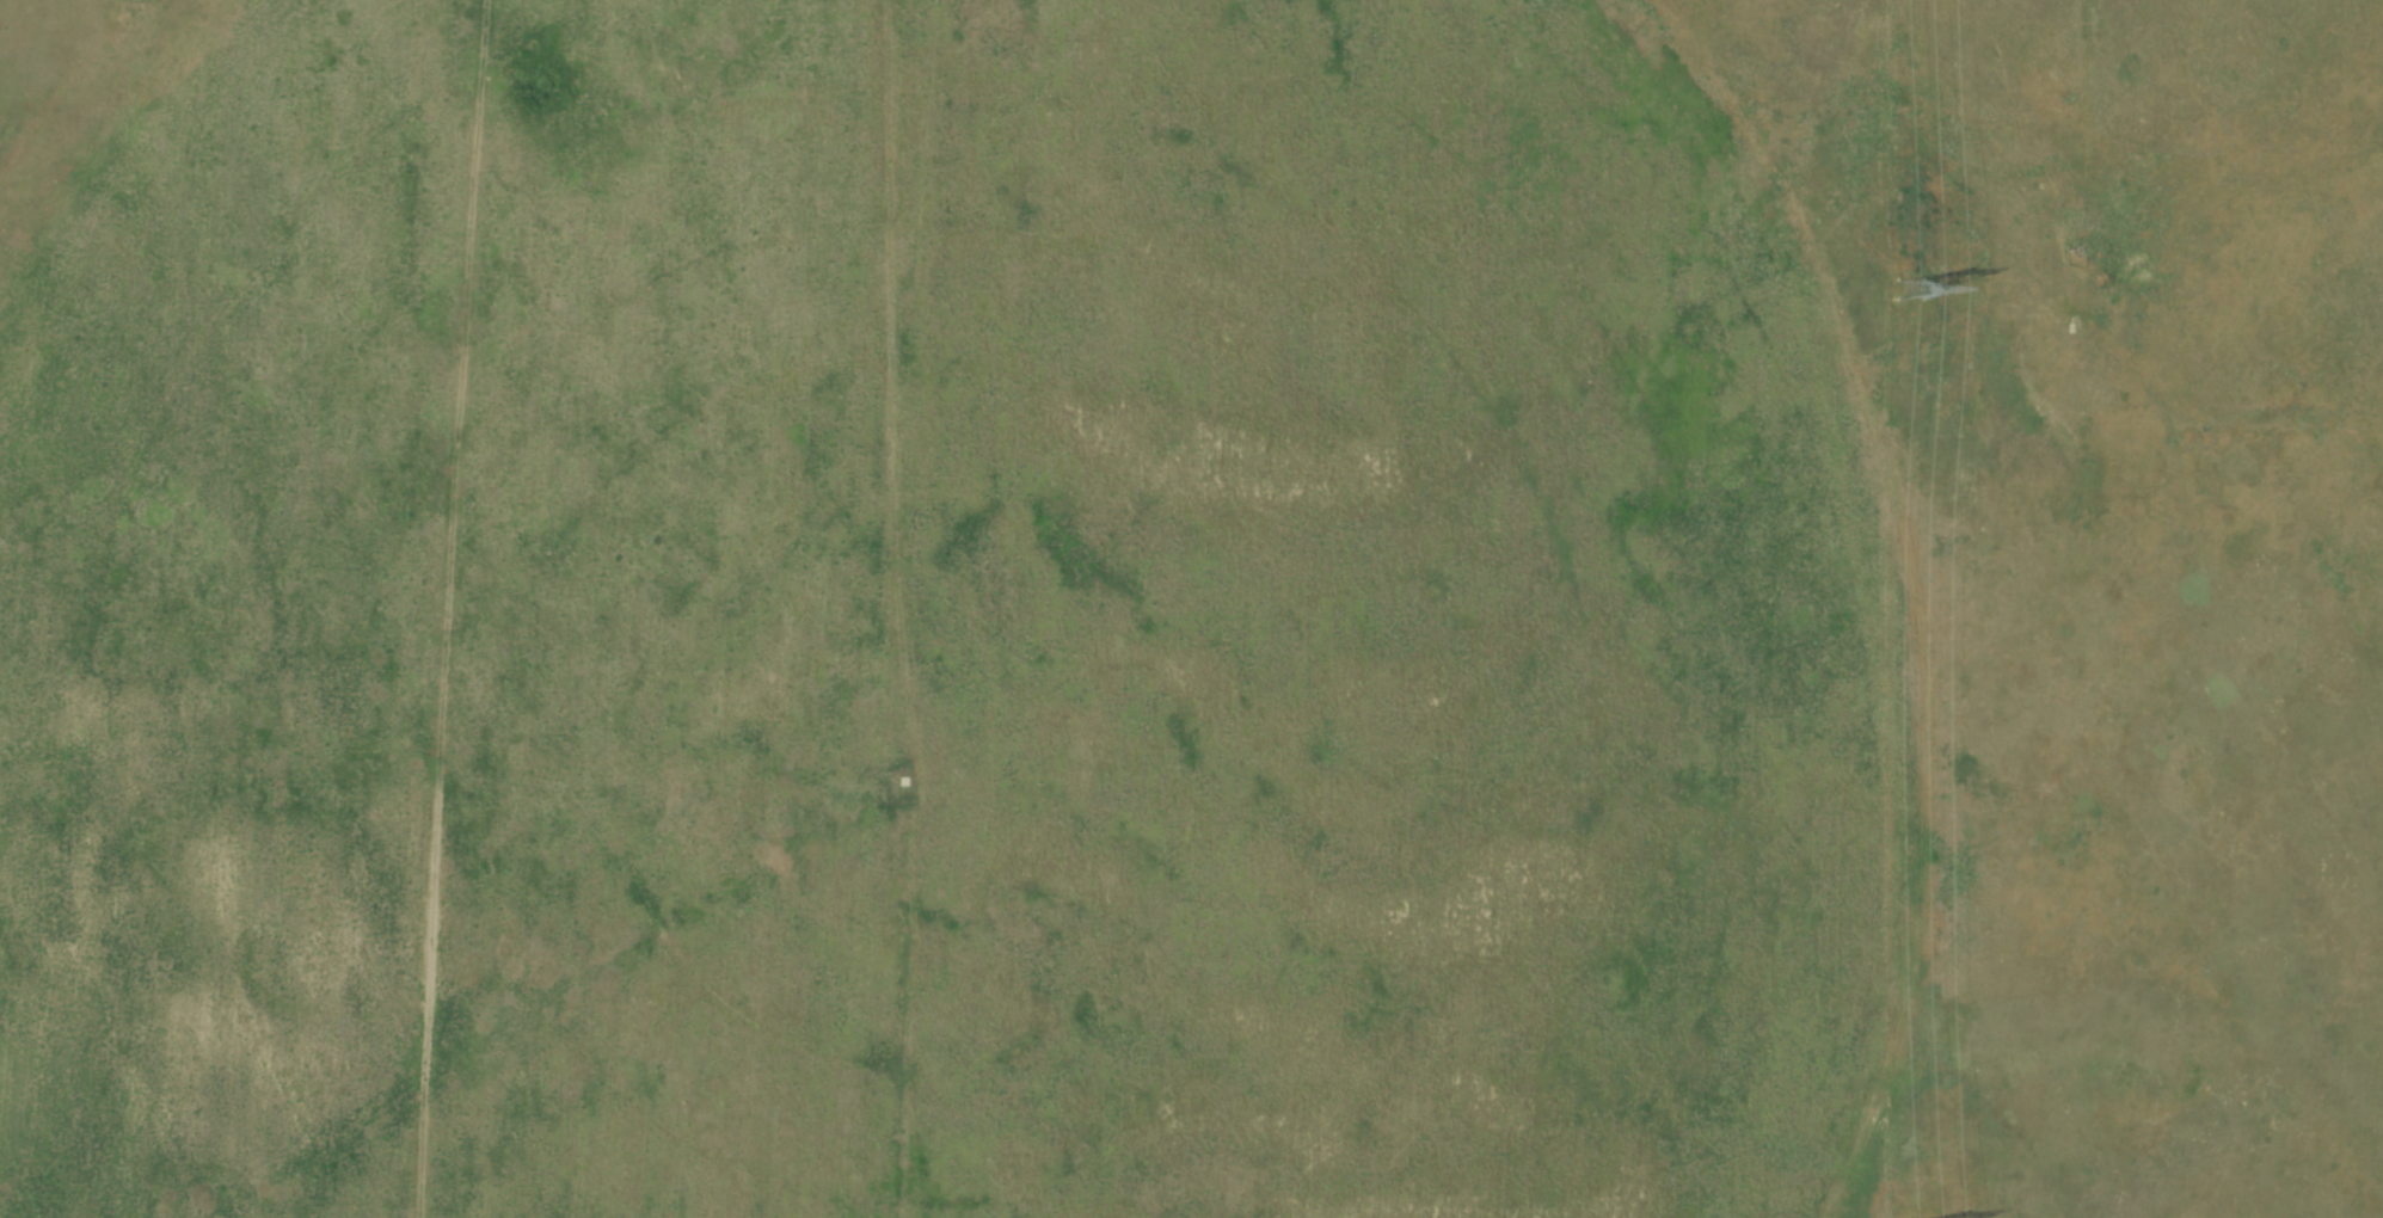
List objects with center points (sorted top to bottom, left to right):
power tower: (1912, 291)

